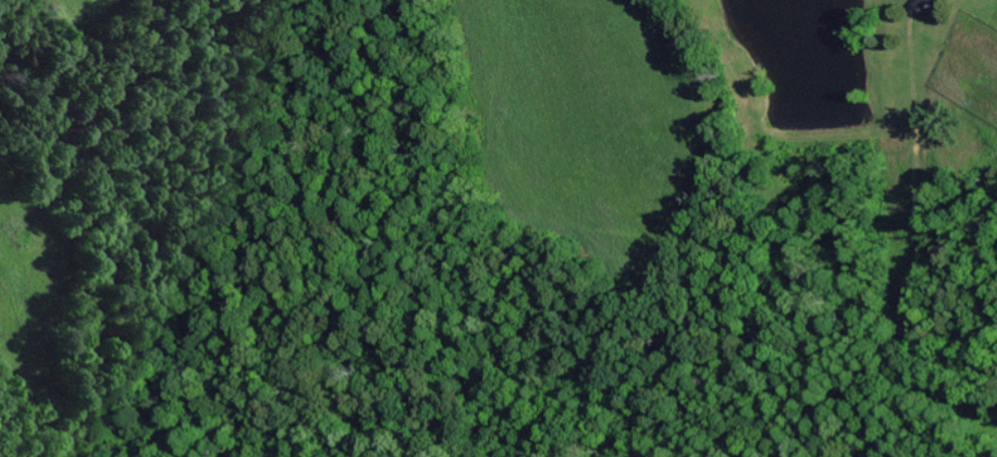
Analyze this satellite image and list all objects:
building: (925, 6)

